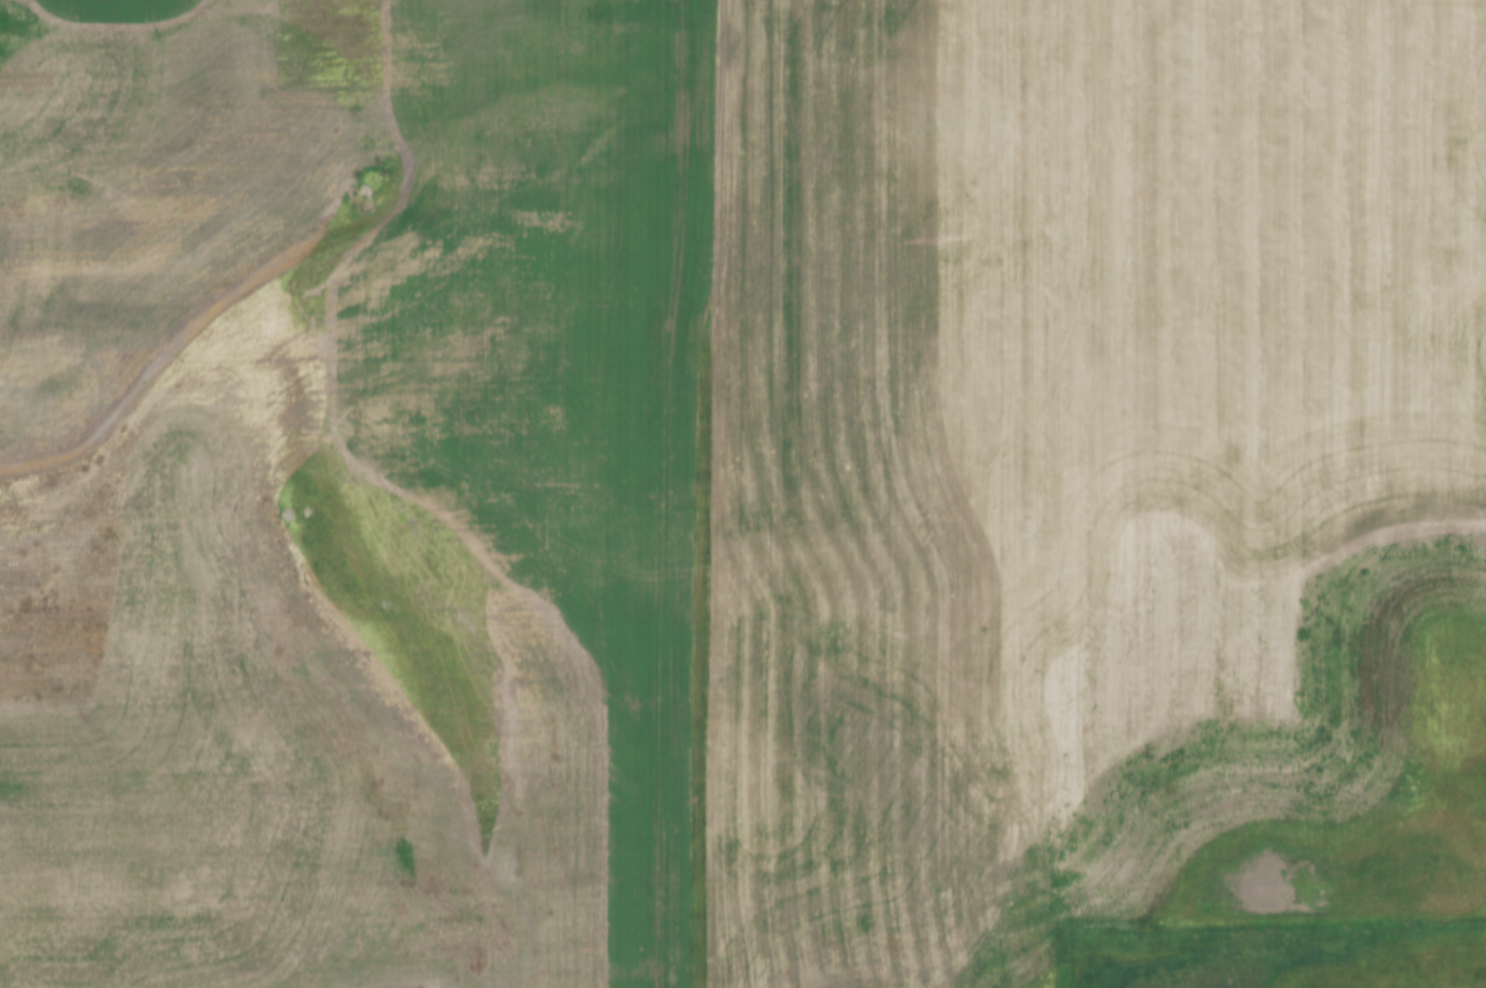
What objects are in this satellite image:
road: (1244, 925)

